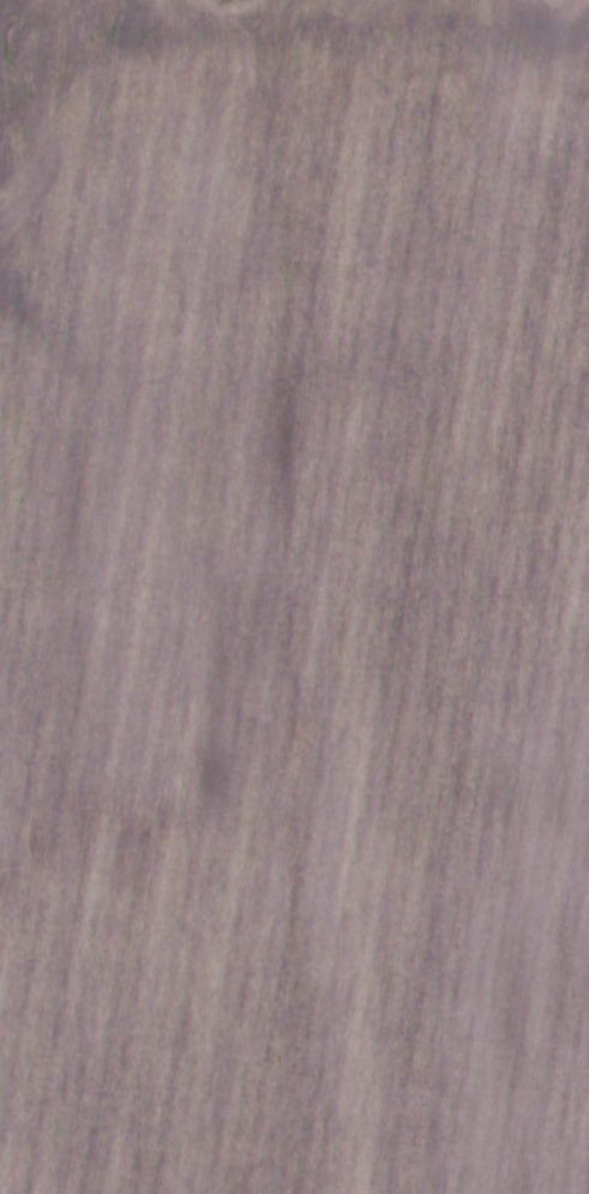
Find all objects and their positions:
crop: (294, 596)

